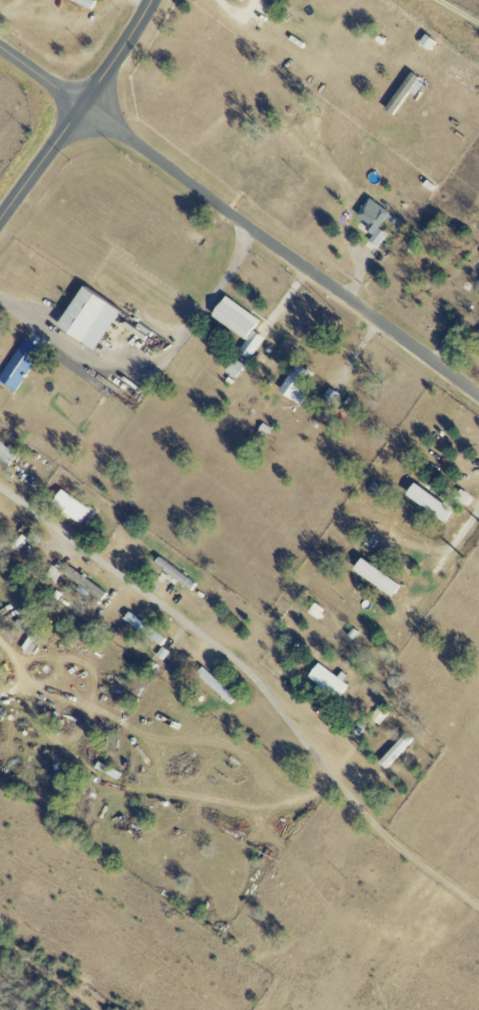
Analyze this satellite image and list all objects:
building: (279, 1)
building: (89, 3)
road: (457, 12)
road: (244, 13)
road: (40, 76)
building: (402, 93)
road: (77, 110)
building: (372, 223)
road: (279, 251)
road: (20, 308)
building: (233, 317)
building: (85, 318)
building: (478, 332)
building: (251, 342)
road: (168, 355)
building: (18, 365)
building: (233, 368)
building: (294, 384)
building: (5, 455)
building: (461, 497)
building: (427, 503)
road: (136, 504)
building: (69, 507)
road: (447, 554)
building: (52, 573)
building: (374, 577)
building: (82, 583)
building: (314, 611)
building: (21, 626)
road: (193, 627)
building: (142, 628)
building: (326, 680)
building: (213, 685)
road: (29, 707)
building: (379, 714)
building: (395, 752)
building: (106, 771)
road: (413, 859)

